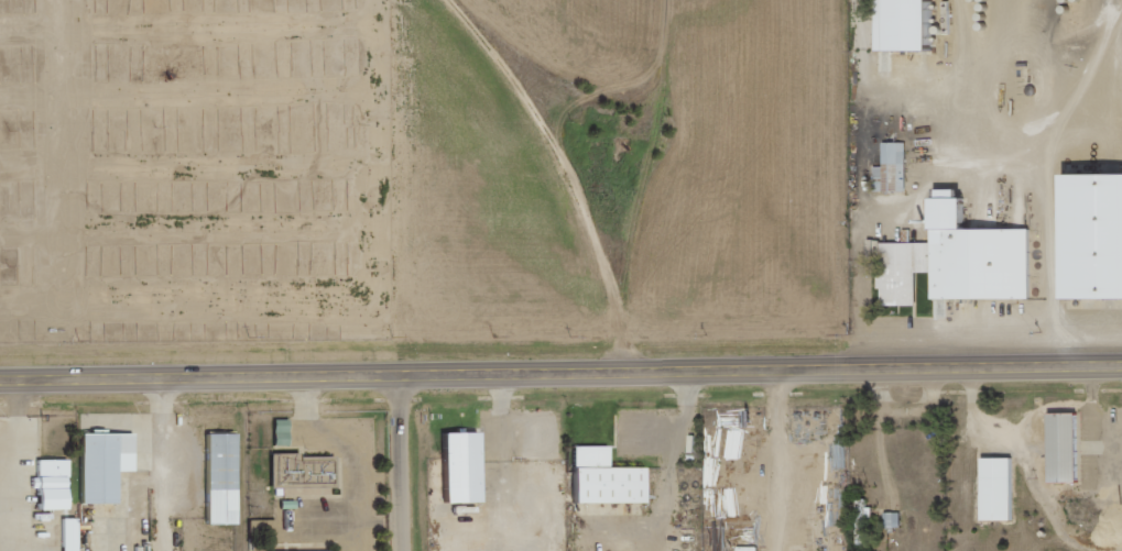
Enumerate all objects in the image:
building: (911, 24)
road: (560, 168)
building: (893, 169)
building: (1098, 235)
building: (960, 261)
road: (560, 374)
building: (282, 431)
building: (1067, 447)
building: (106, 463)
road: (407, 463)
building: (464, 465)
building: (303, 469)
building: (222, 477)
building: (606, 477)
building: (54, 483)
building: (1000, 488)
building: (70, 533)
building: (309, 550)

